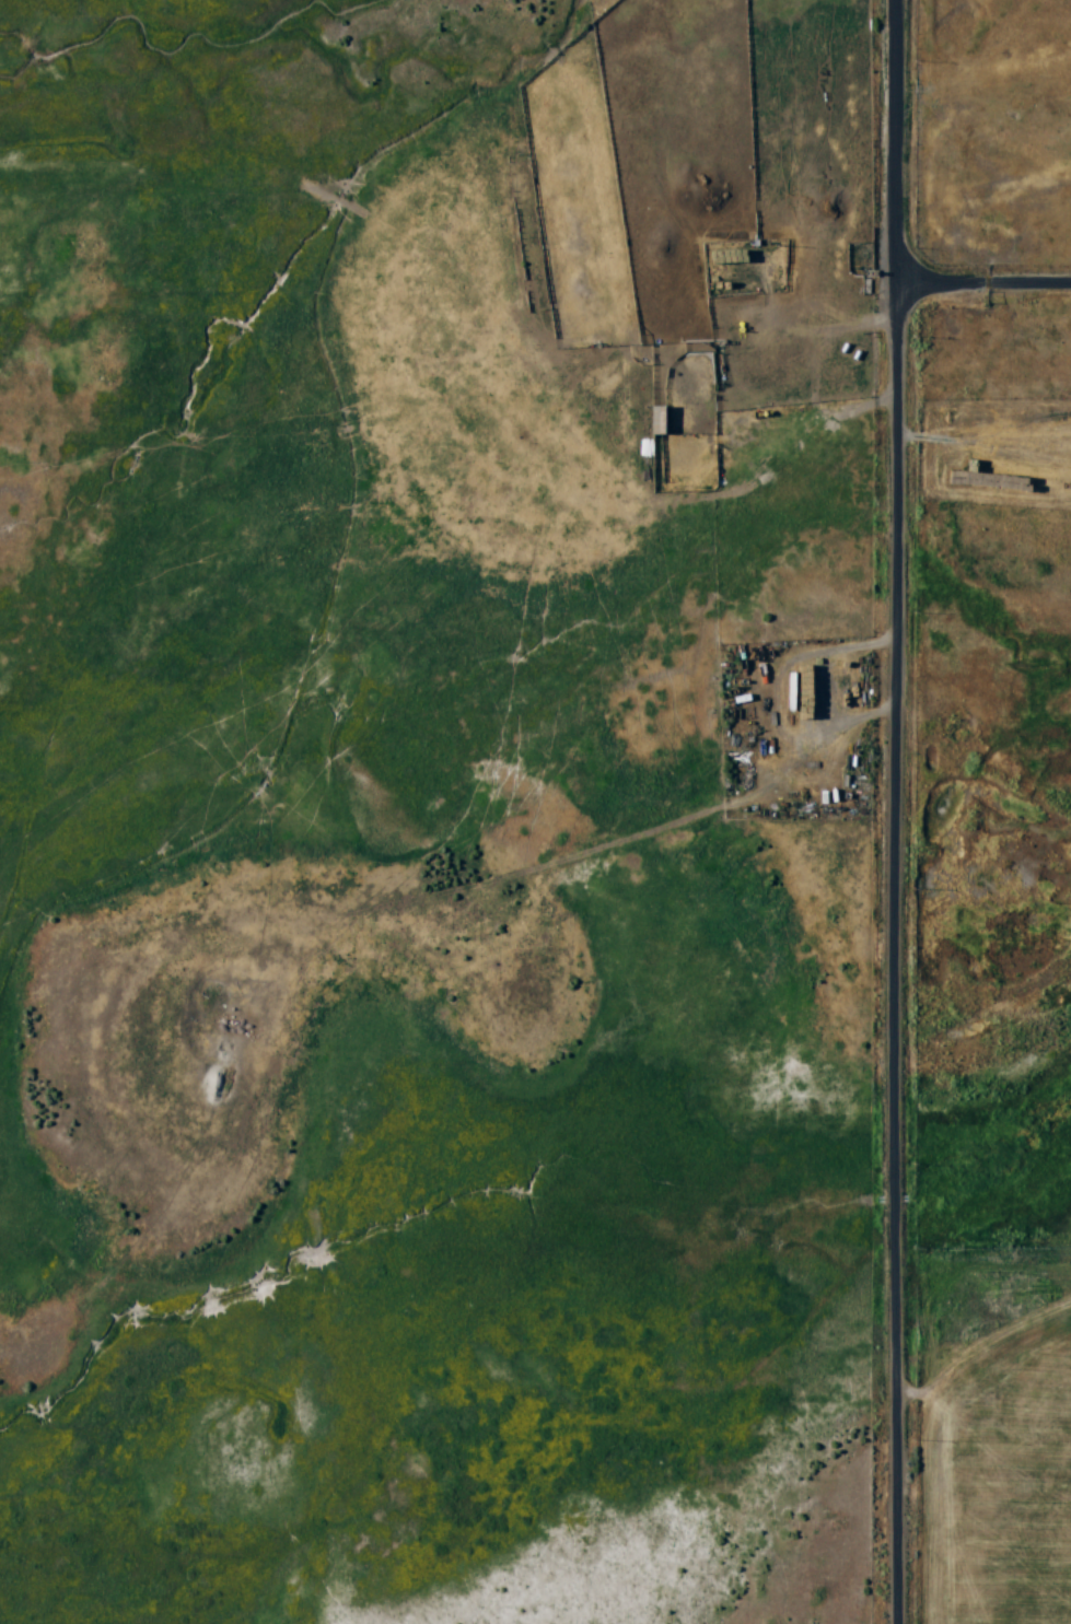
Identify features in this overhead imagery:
road: (988, 278)
road: (899, 811)

